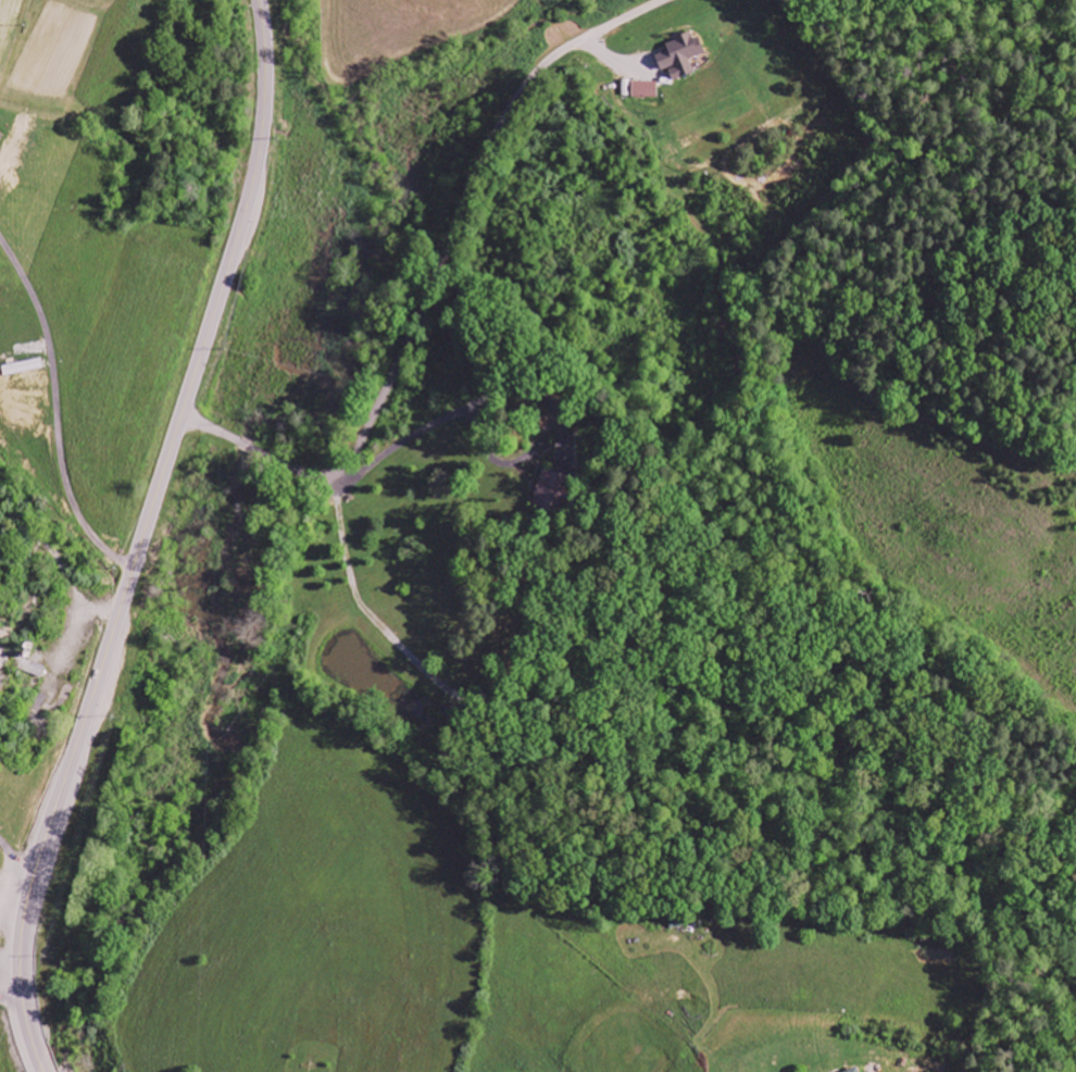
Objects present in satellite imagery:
building: (680, 55)
building: (645, 89)
road: (443, 259)
road: (54, 415)
road: (204, 425)
building: (551, 493)
road: (145, 537)
road: (18, 853)
road: (8, 940)
road: (2, 996)
building: (852, 1071)

